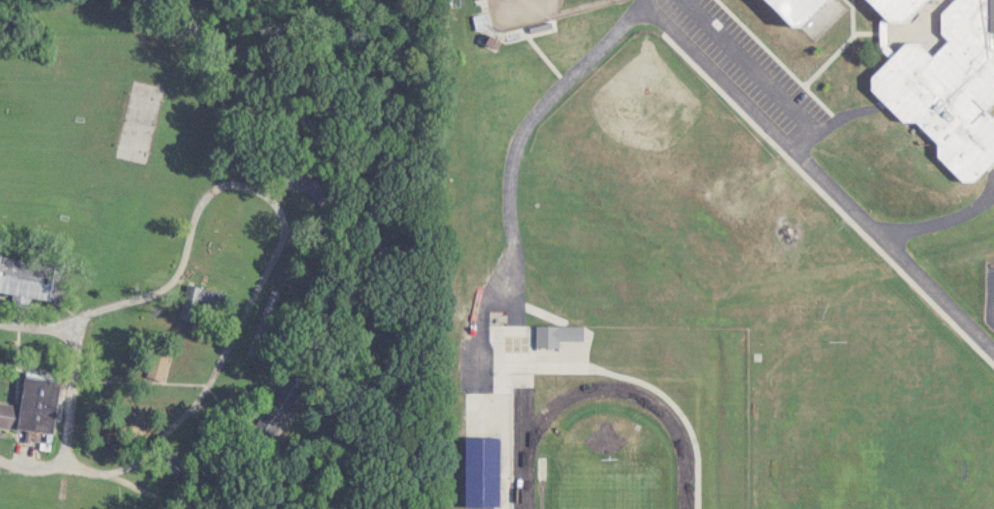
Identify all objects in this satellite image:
building: (895, 8)
building: (795, 9)
park: (538, 10)
road: (747, 64)
building: (948, 86)
road: (828, 121)
road: (519, 138)
park: (649, 152)
road: (818, 175)
building: (302, 183)
road: (941, 219)
building: (25, 277)
building: (196, 295)
road: (242, 311)
road: (36, 326)
building: (569, 332)
building: (157, 366)
building: (283, 399)
building: (32, 405)
building: (453, 405)
park: (836, 424)
track: (524, 446)
building: (481, 471)
park: (608, 483)

